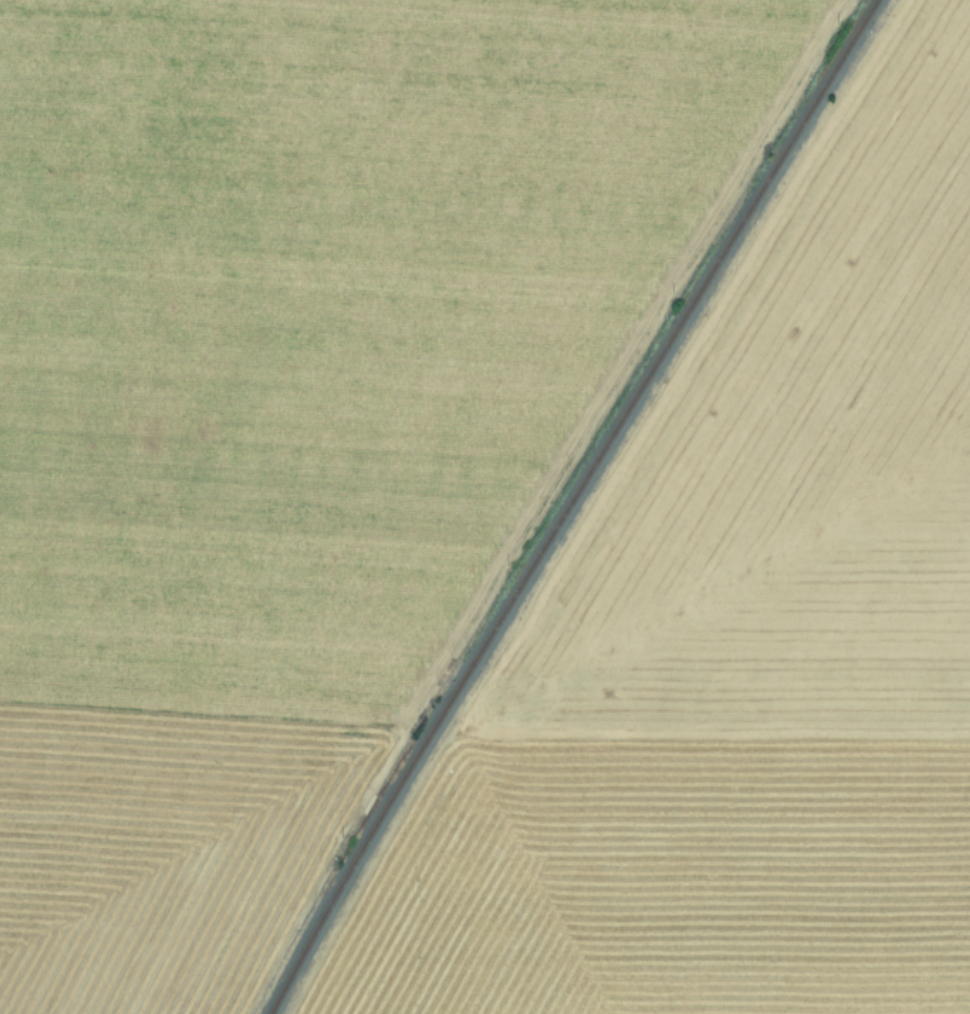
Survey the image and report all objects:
railway: (568, 503)
crop: (485, 507)

